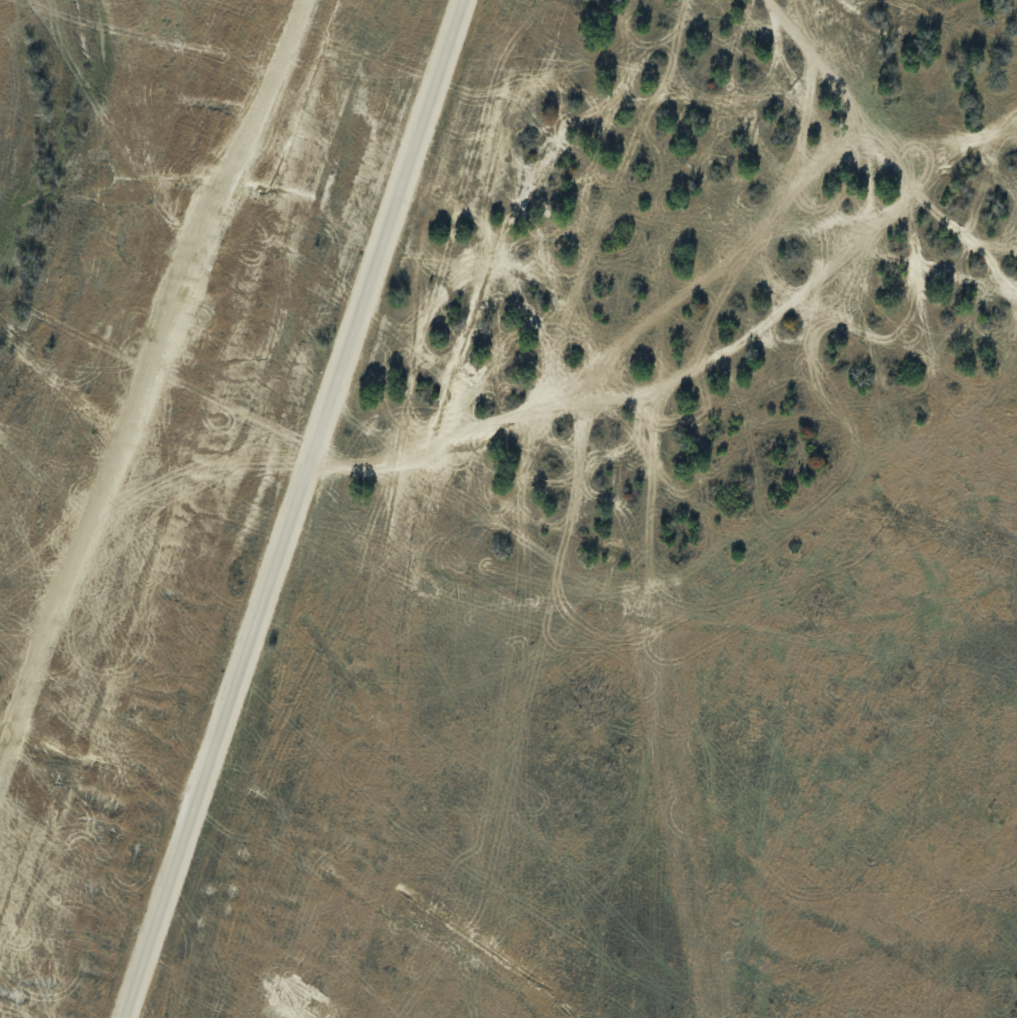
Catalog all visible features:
road: (152, 375)
road: (296, 508)

